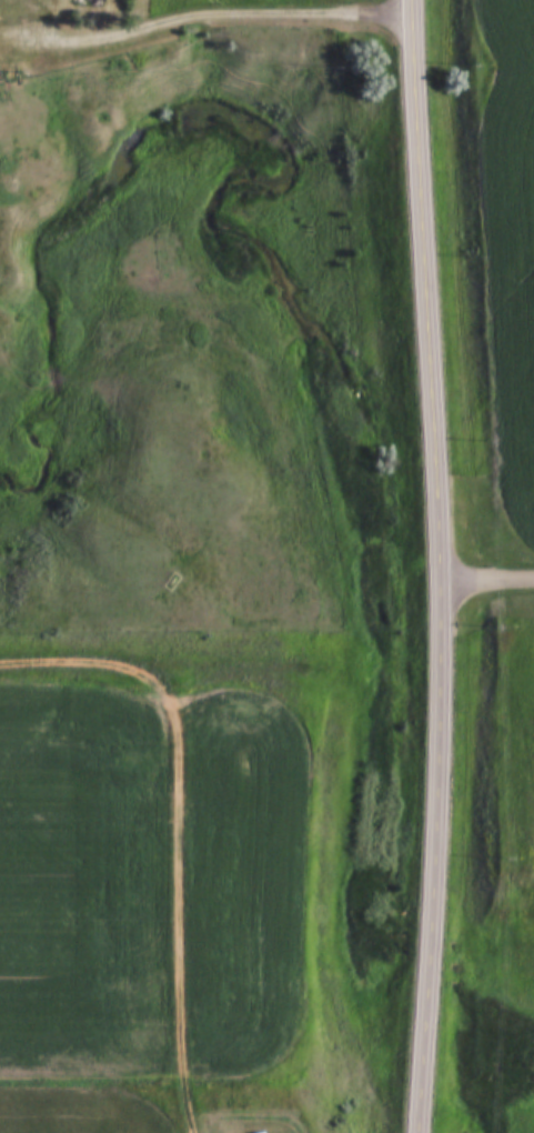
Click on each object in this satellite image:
building: (94, 4)
road: (208, 14)
road: (436, 565)
road: (485, 575)
road: (180, 825)

